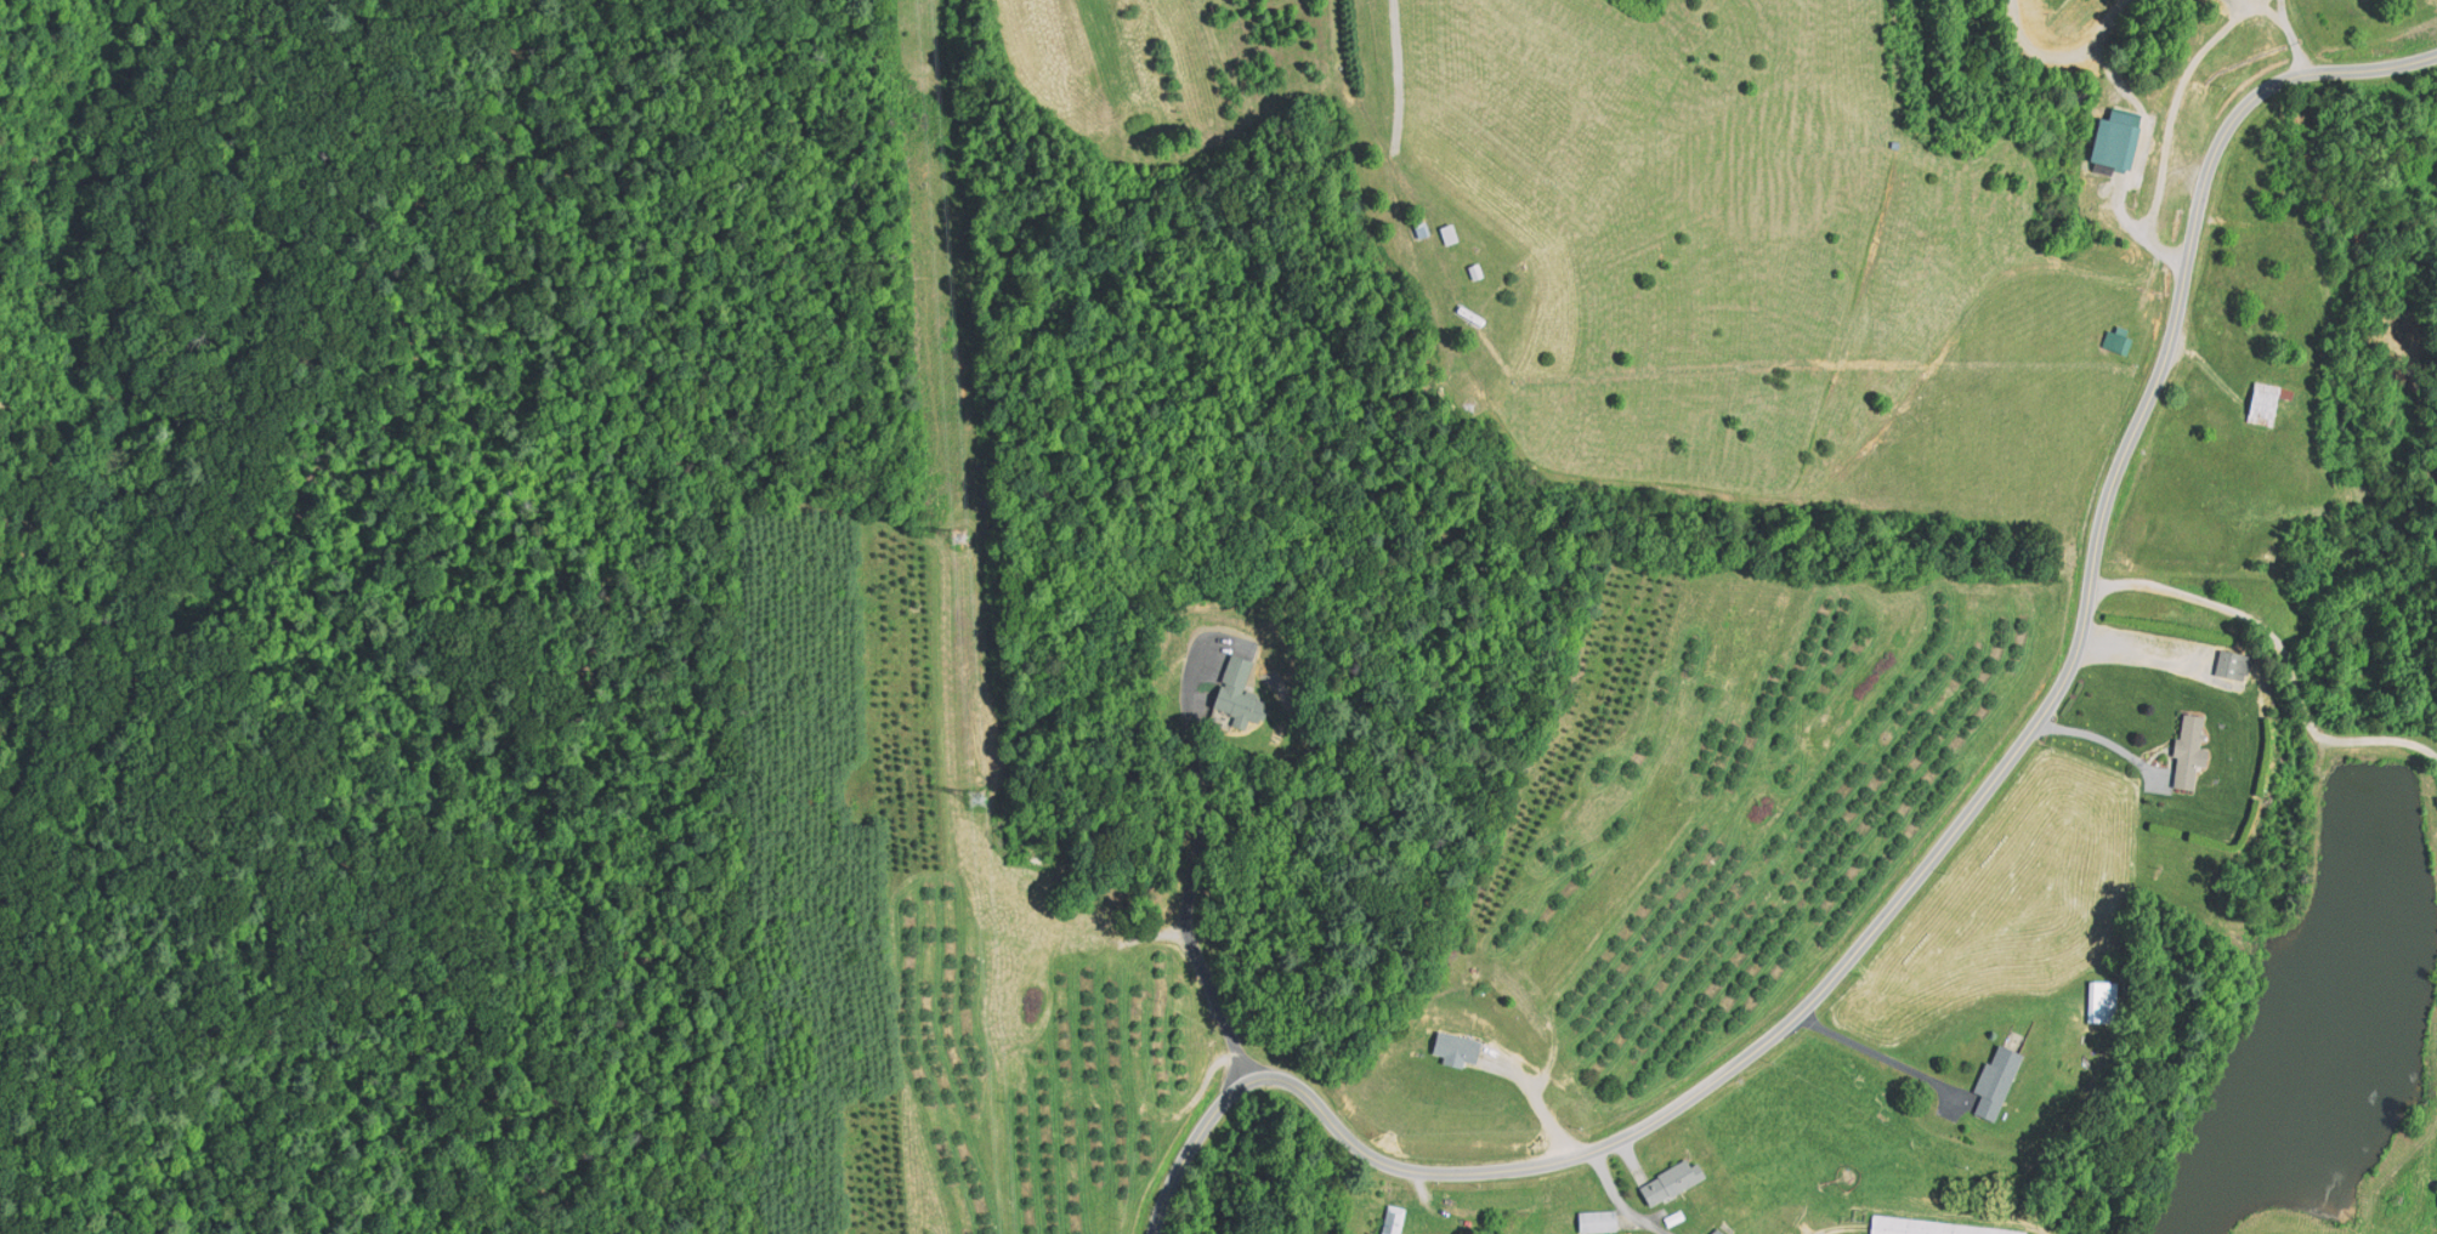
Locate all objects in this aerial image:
road: (2284, 11)
road: (2177, 92)
building: (2112, 144)
building: (1452, 235)
road: (2352, 332)
building: (2263, 405)
power tower: (956, 533)
road: (2274, 659)
building: (2231, 665)
building: (1235, 693)
road: (2093, 746)
building: (2188, 752)
power tower: (974, 797)
road: (1938, 857)
road: (1194, 865)
building: (2095, 1002)
building: (1457, 1048)
road: (1875, 1052)
building: (1994, 1084)
building: (1671, 1183)
road: (1621, 1200)
building: (1393, 1219)
building: (1597, 1222)
building: (1926, 1228)

